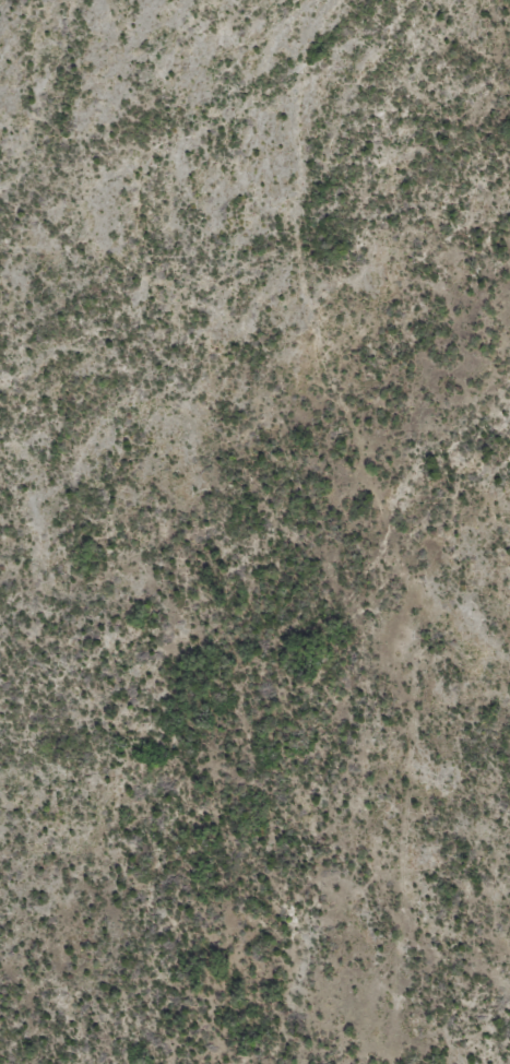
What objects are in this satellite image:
road: (182, 244)

